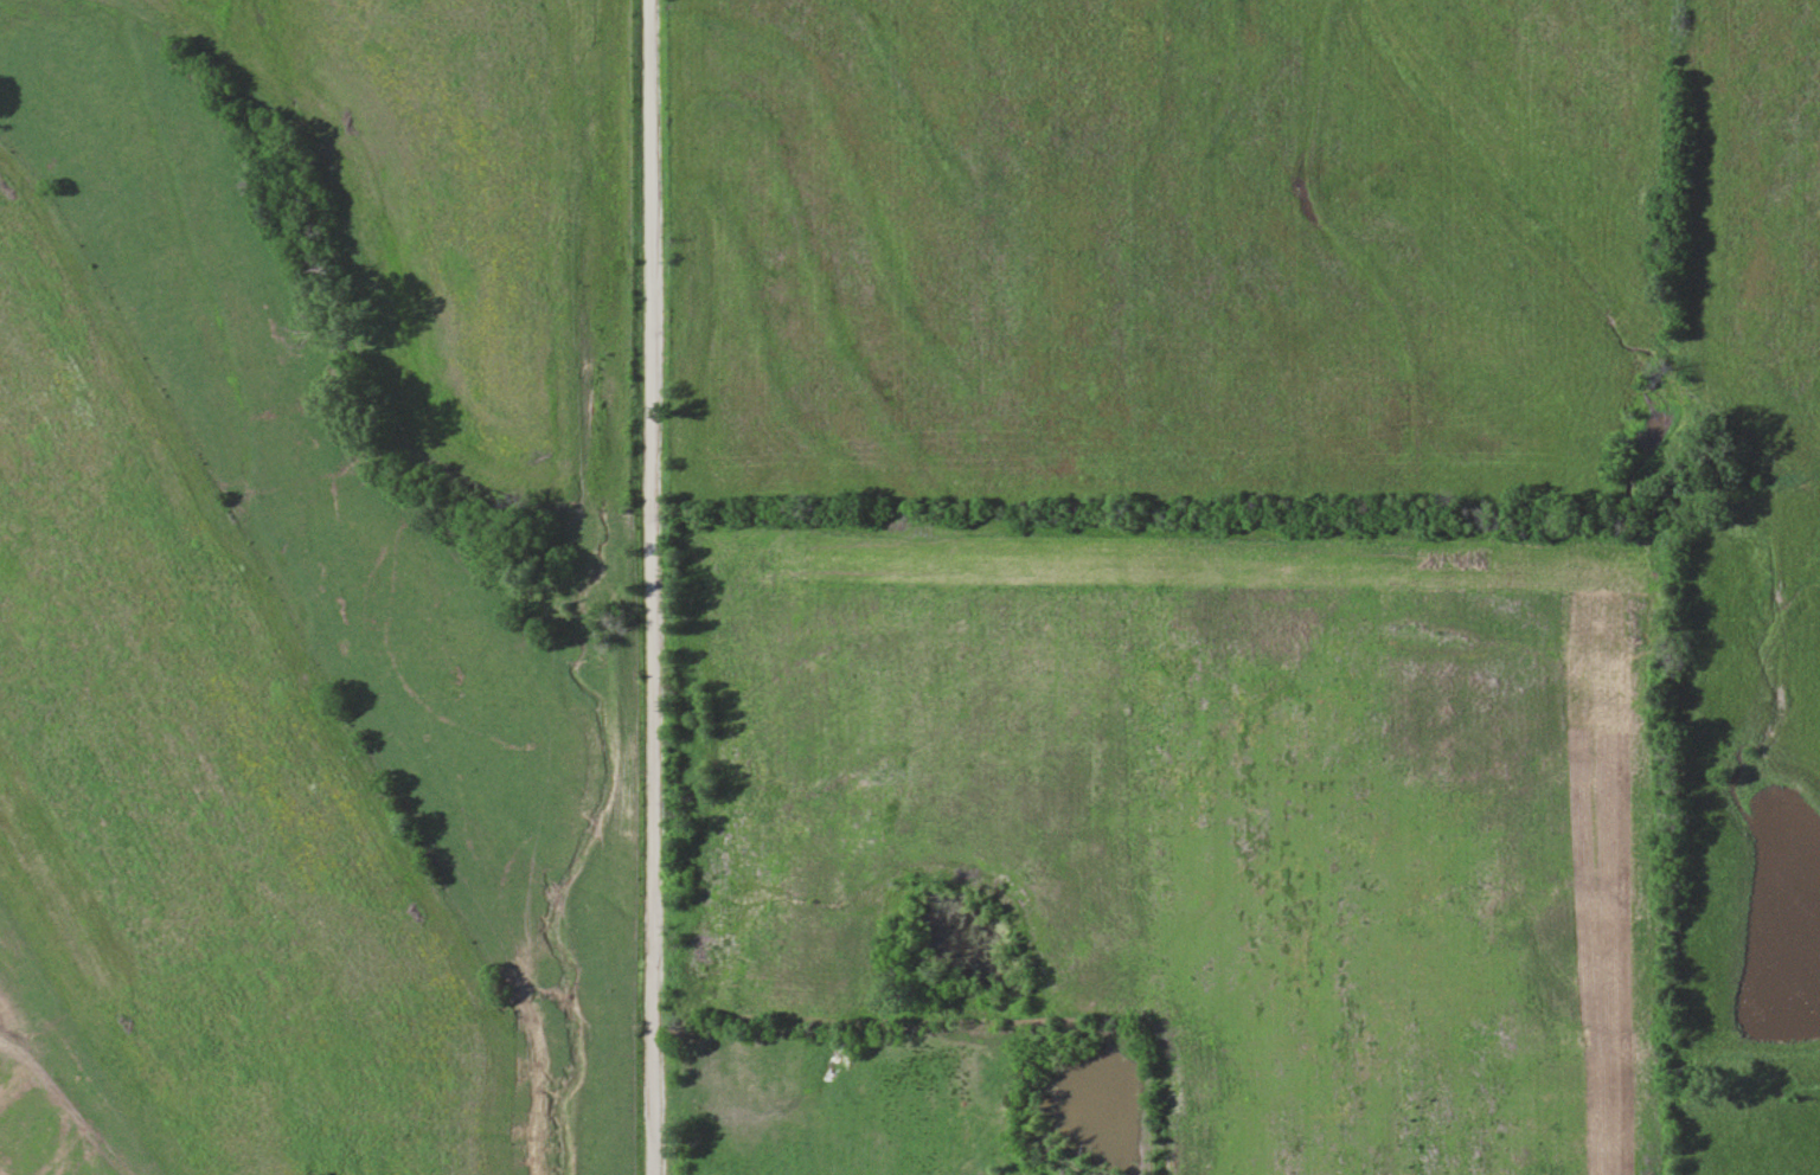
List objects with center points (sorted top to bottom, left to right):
road: (647, 587)

